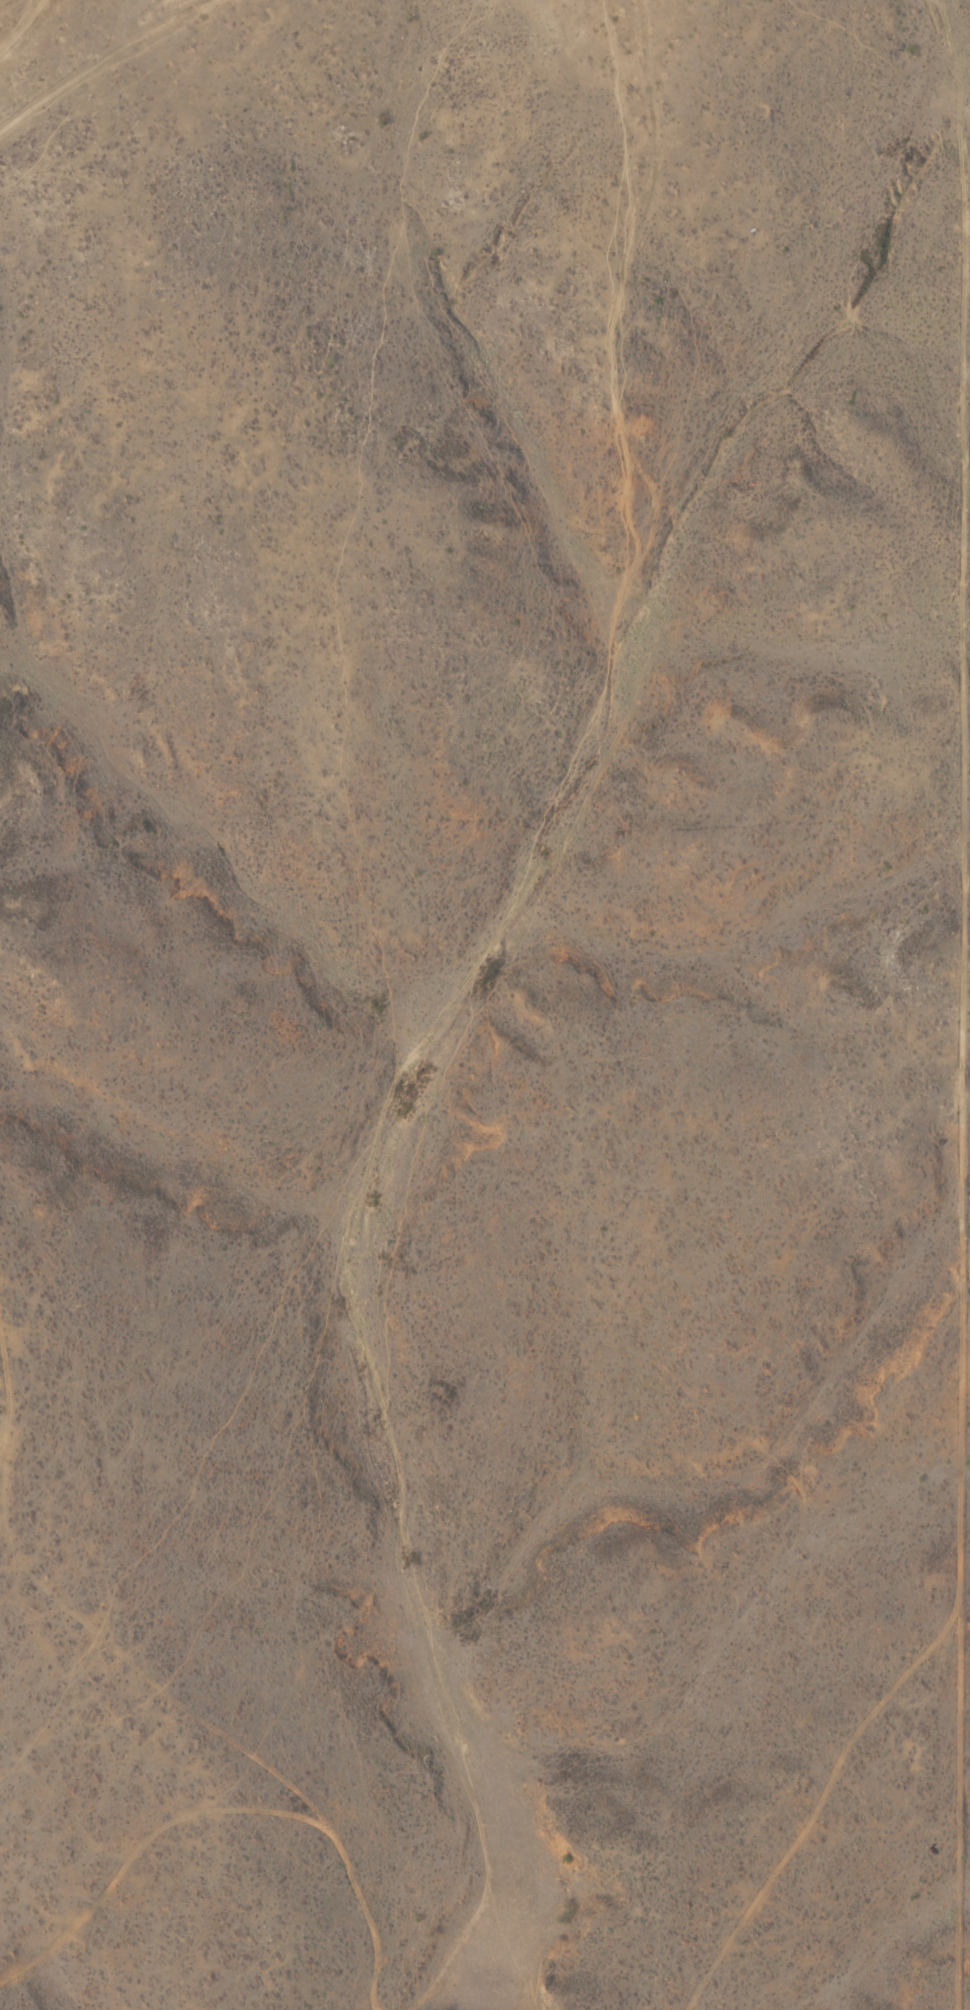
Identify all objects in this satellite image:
road: (12, 24)
road: (0, 1463)

